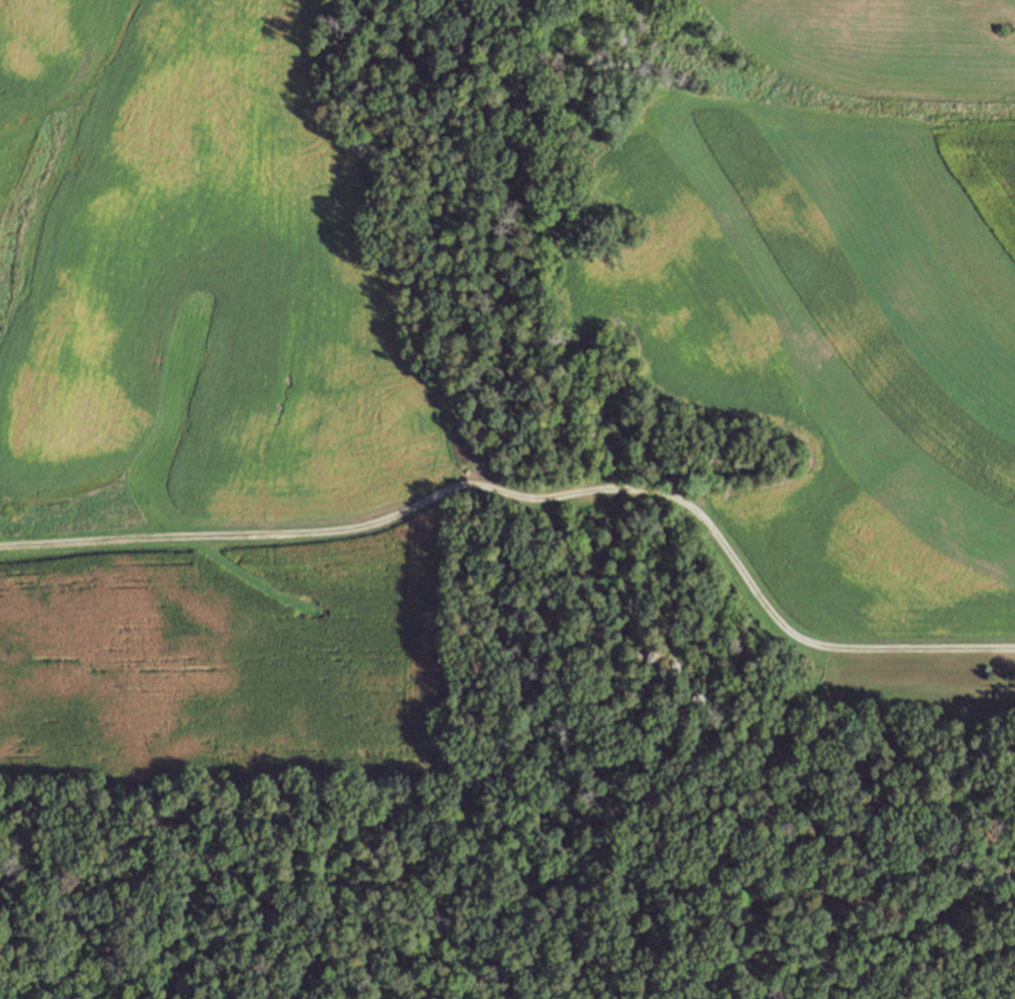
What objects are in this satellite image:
building: (661, 656)

